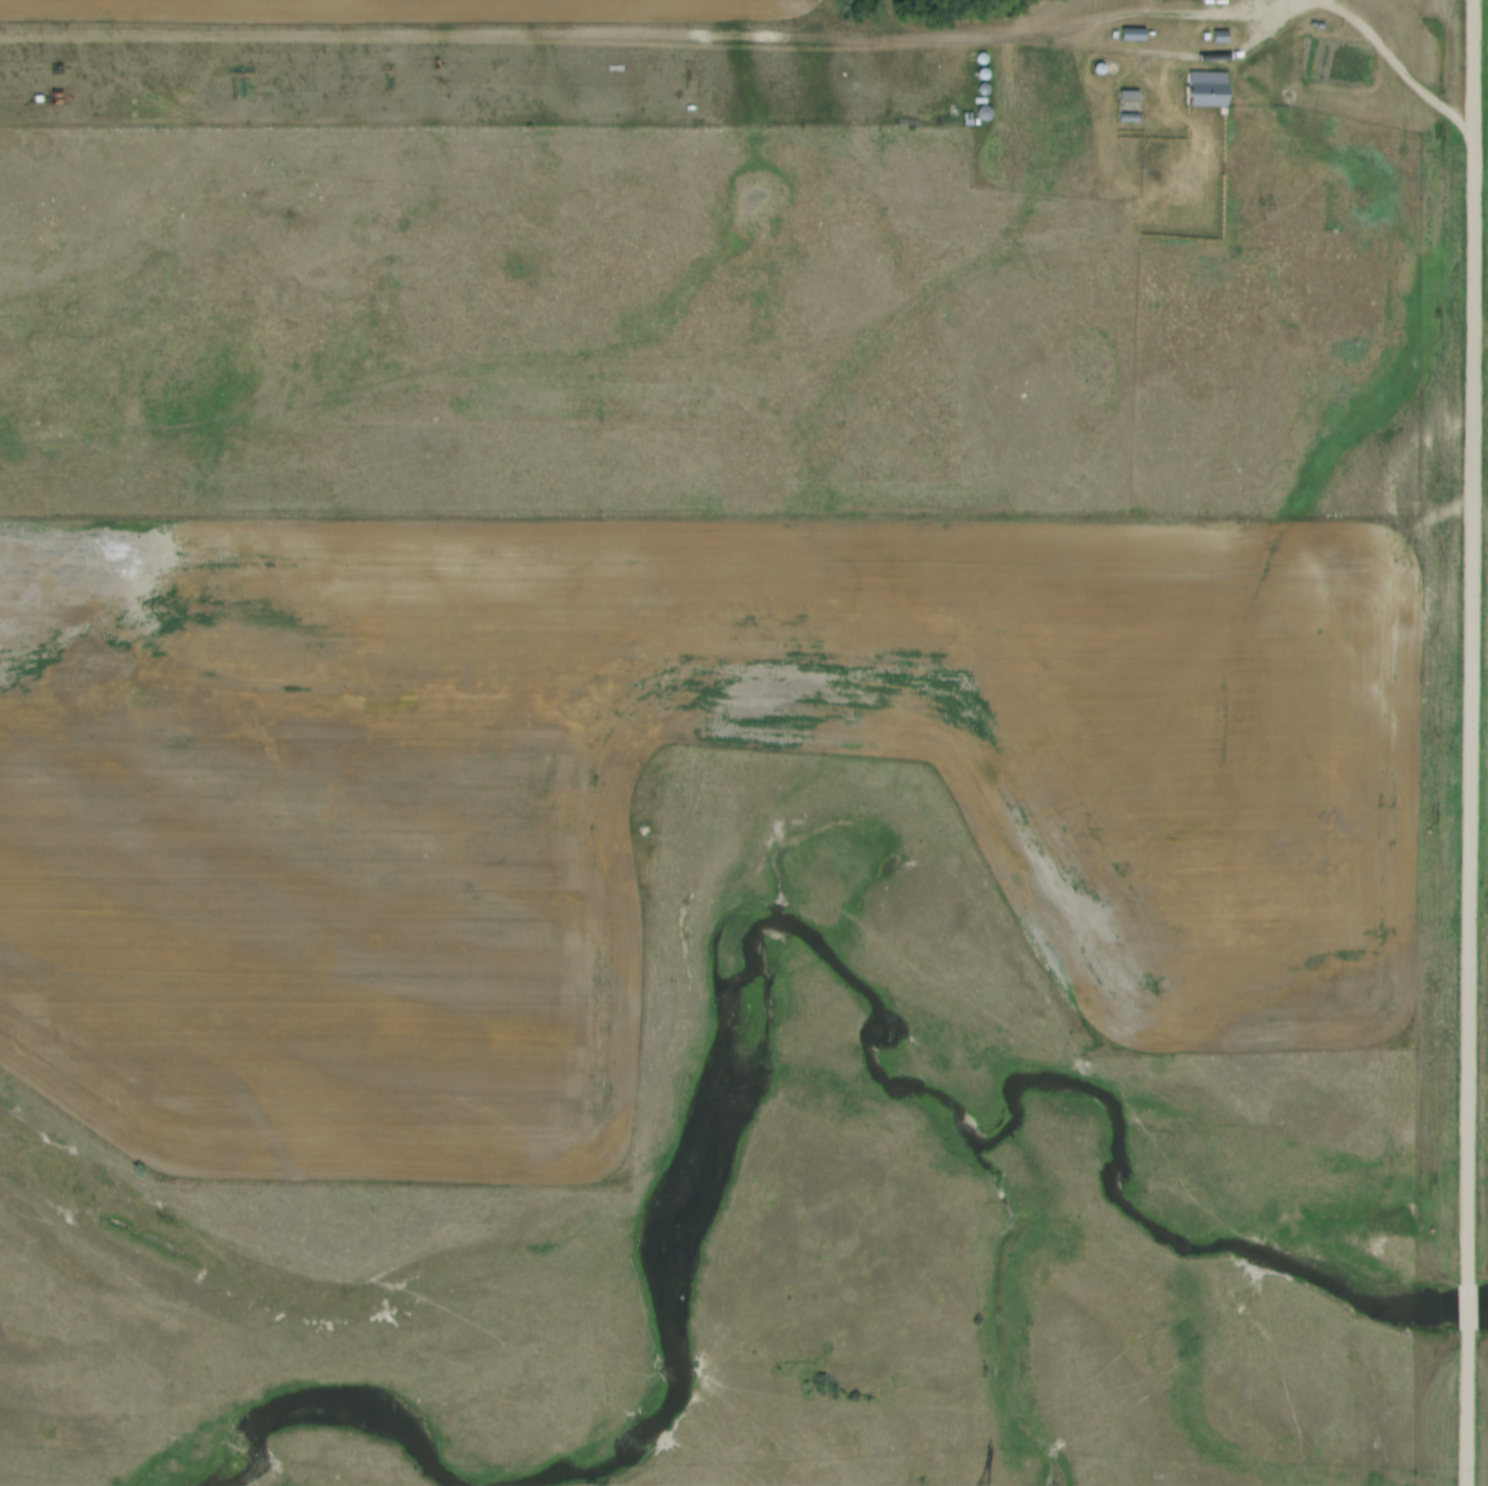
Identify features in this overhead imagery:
road: (1168, 14)
building: (1132, 36)
road: (1396, 66)
building: (1206, 91)
road: (1470, 639)
building: (487, 946)
road: (1468, 1302)
road: (1467, 1405)

